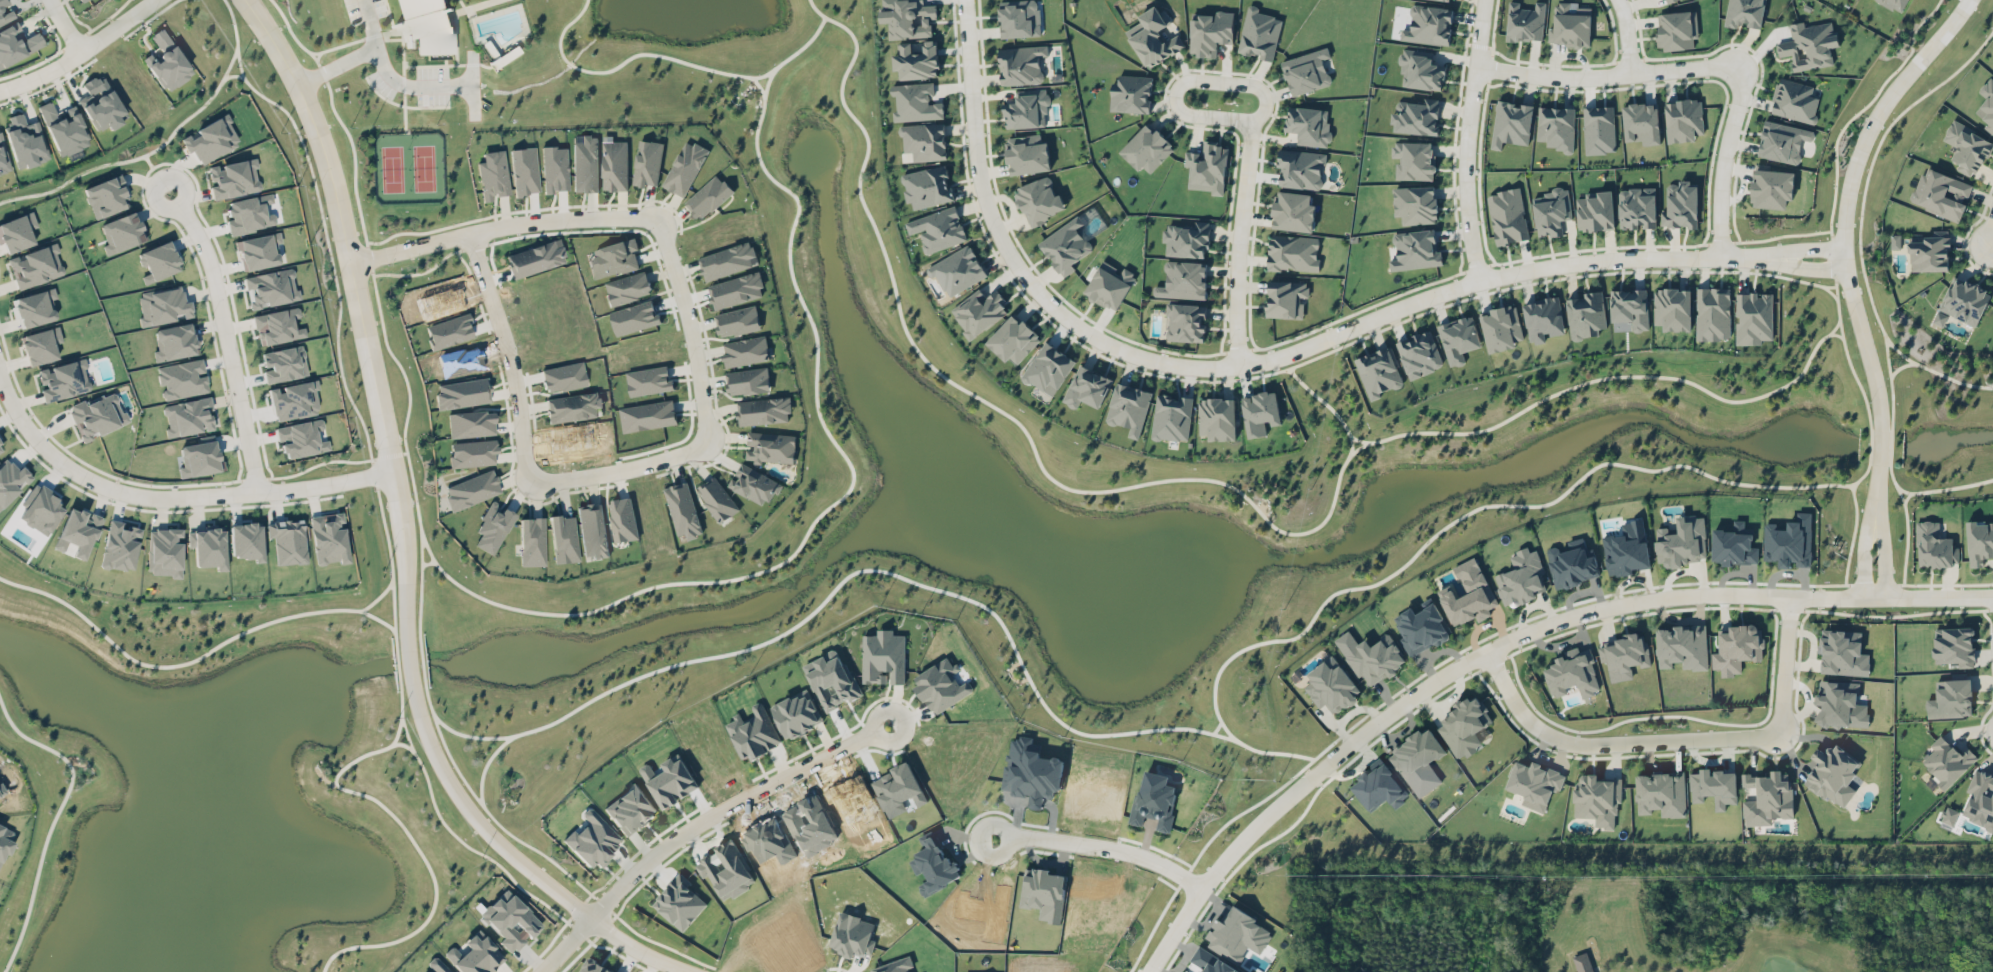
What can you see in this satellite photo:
building: (81, 0)
building: (1451, 0)
building: (2, 1)
building: (1670, 1)
road: (461, 4)
building: (1894, 4)
road: (471, 6)
building: (1745, 13)
building: (6, 15)
building: (908, 18)
building: (1525, 22)
building: (1571, 24)
road: (65, 25)
building: (1428, 25)
building: (426, 26)
building: (1677, 29)
building: (1210, 33)
building: (1259, 33)
road: (365, 36)
road: (1622, 36)
building: (1154, 38)
building: (17, 44)
building: (1809, 45)
road: (79, 51)
road: (317, 55)
road: (669, 56)
building: (916, 60)
building: (167, 61)
road: (337, 64)
building: (1021, 64)
building: (1420, 70)
building: (1306, 71)
road: (234, 74)
road: (1604, 74)
road: (393, 77)
road: (473, 83)
road: (760, 86)
building: (1131, 94)
building: (1795, 100)
building: (915, 102)
building: (102, 104)
building: (1027, 109)
road: (1189, 114)
building: (1416, 117)
building: (1683, 120)
building: (1641, 122)
building: (1511, 123)
building: (1309, 125)
building: (1556, 127)
building: (64, 128)
building: (1598, 130)
building: (212, 139)
building: (25, 141)
building: (924, 141)
road: (1465, 141)
building: (1782, 141)
building: (1147, 148)
building: (1967, 148)
building: (1027, 154)
road: (142, 156)
building: (3, 157)
road: (1722, 159)
building: (1414, 160)
building: (647, 162)
building: (585, 163)
building: (615, 165)
building: (554, 168)
building: (685, 168)
building: (1207, 168)
park: (411, 169)
building: (1300, 169)
building: (524, 170)
road: (158, 173)
building: (493, 174)
building: (233, 177)
building: (927, 186)
building: (1772, 188)
building: (1940, 193)
building: (107, 196)
building: (708, 196)
road: (1846, 198)
building: (1039, 200)
building: (1416, 204)
building: (1682, 207)
building: (1637, 208)
building: (1595, 210)
building: (1551, 211)
building: (1294, 212)
building: (249, 213)
building: (1507, 216)
road: (501, 225)
building: (938, 229)
building: (17, 231)
building: (122, 232)
building: (1186, 239)
road: (1992, 239)
building: (1896, 241)
road: (1238, 242)
road: (1992, 242)
building: (1066, 246)
road: (1810, 249)
building: (259, 250)
building: (1416, 250)
building: (1930, 251)
building: (1293, 252)
building: (534, 258)
building: (613, 258)
building: (727, 260)
building: (159, 261)
building: (36, 265)
road: (1811, 268)
road: (426, 269)
building: (958, 270)
building: (1183, 280)
road: (1496, 283)
building: (1109, 285)
building: (628, 287)
building: (271, 288)
building: (737, 290)
building: (1286, 298)
building: (1965, 301)
building: (163, 306)
building: (35, 307)
building: (1630, 307)
building: (1673, 309)
road: (1408, 310)
building: (980, 311)
building: (1713, 313)
building: (1586, 315)
building: (1753, 318)
building: (1543, 319)
building: (626, 321)
building: (737, 321)
building: (1185, 322)
road: (1394, 322)
road: (1835, 325)
building: (277, 326)
building: (1501, 328)
building: (449, 330)
road: (690, 330)
road: (1359, 331)
road: (1837, 333)
road: (225, 335)
building: (1459, 338)
building: (1013, 339)
building: (175, 341)
building: (41, 345)
building: (745, 351)
road: (1847, 351)
building: (1419, 354)
road: (509, 356)
building: (283, 363)
road: (1251, 363)
road: (340, 365)
building: (1048, 368)
building: (1379, 372)
road: (1938, 372)
building: (563, 376)
building: (182, 378)
building: (64, 379)
building: (649, 380)
building: (748, 381)
building: (1087, 387)
road: (1891, 391)
building: (462, 392)
road: (1322, 399)
building: (573, 406)
building: (1129, 408)
building: (763, 411)
building: (1260, 413)
building: (98, 414)
building: (648, 415)
building: (189, 416)
building: (1172, 417)
building: (1217, 418)
building: (471, 423)
building: (302, 438)
road: (1358, 439)
road: (1351, 445)
road: (1871, 446)
road: (1879, 446)
road: (1890, 446)
building: (1, 447)
building: (770, 447)
building: (472, 452)
road: (388, 454)
building: (200, 458)
road: (618, 471)
road: (1206, 478)
building: (11, 480)
road: (392, 480)
building: (755, 484)
building: (471, 489)
road: (1932, 489)
road: (1874, 491)
road: (170, 496)
building: (717, 499)
building: (41, 508)
building: (683, 509)
building: (623, 519)
road: (1856, 519)
road: (1873, 521)
building: (493, 526)
road: (1442, 528)
building: (592, 530)
building: (77, 531)
building: (329, 538)
building: (564, 538)
building: (246, 540)
building: (288, 540)
building: (531, 541)
building: (1682, 541)
building: (1979, 542)
building: (120, 545)
building: (1734, 545)
building: (1933, 545)
building: (208, 547)
building: (1628, 549)
building: (165, 551)
building: (1576, 564)
building: (1522, 577)
road: (1839, 583)
building: (1468, 593)
road: (377, 597)
road: (583, 611)
road: (378, 618)
building: (1423, 627)
road: (781, 634)
road: (1505, 641)
building: (1954, 645)
building: (1682, 646)
building: (1736, 648)
building: (1843, 653)
building: (1371, 656)
building: (1626, 656)
building: (884, 657)
road: (173, 663)
road: (1785, 665)
building: (1572, 673)
building: (834, 683)
building: (941, 685)
building: (1331, 685)
building: (1951, 699)
building: (1840, 704)
building: (797, 714)
building: (1465, 726)
road: (1216, 728)
road: (397, 730)
building: (754, 732)
road: (1610, 744)
building: (1417, 755)
building: (1946, 761)
road: (340, 770)
building: (1031, 771)
building: (1832, 774)
building: (669, 781)
building: (1534, 783)
building: (1379, 787)
building: (1714, 787)
building: (2, 789)
building: (898, 789)
building: (1661, 793)
building: (1768, 798)
building: (1597, 799)
building: (1980, 799)
building: (1155, 800)
road: (729, 807)
building: (631, 809)
building: (1950, 815)
road: (53, 820)
building: (592, 839)
building: (4, 841)
road: (1101, 846)
building: (936, 867)
building: (727, 869)
building: (1044, 893)
park: (1627, 914)
building: (511, 920)
building: (853, 935)
building: (1238, 935)
road: (565, 946)
road: (637, 950)
building: (474, 954)
building: (1582, 962)
building: (1208, 963)
building: (436, 965)
building: (894, 966)
building: (594, 967)

